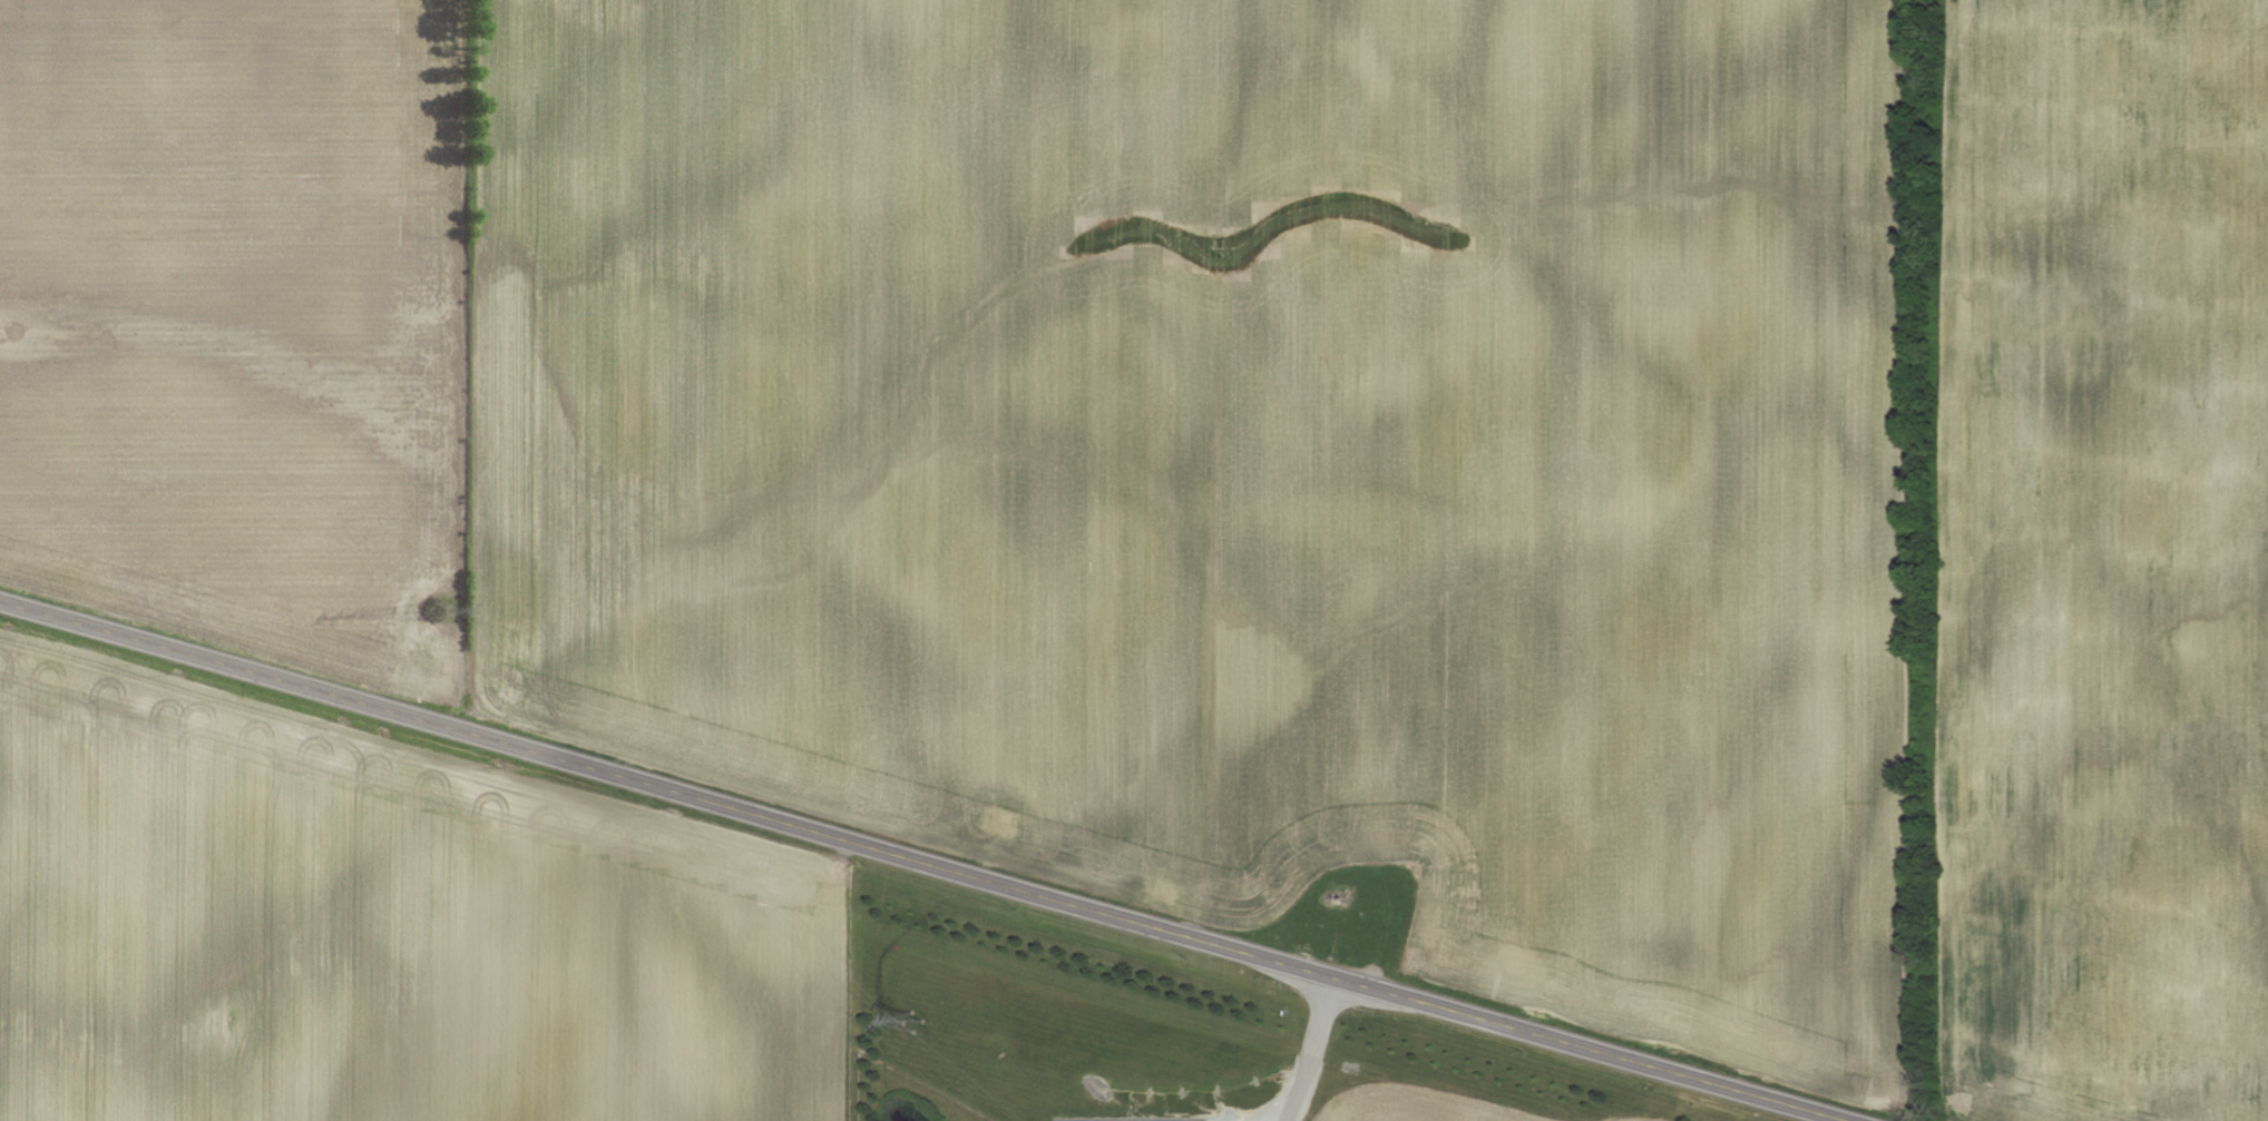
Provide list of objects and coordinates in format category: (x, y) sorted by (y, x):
power tower: (433, 603)
road: (927, 862)
power tower: (910, 1012)
road: (1311, 1049)
power substation: (1128, 1117)

